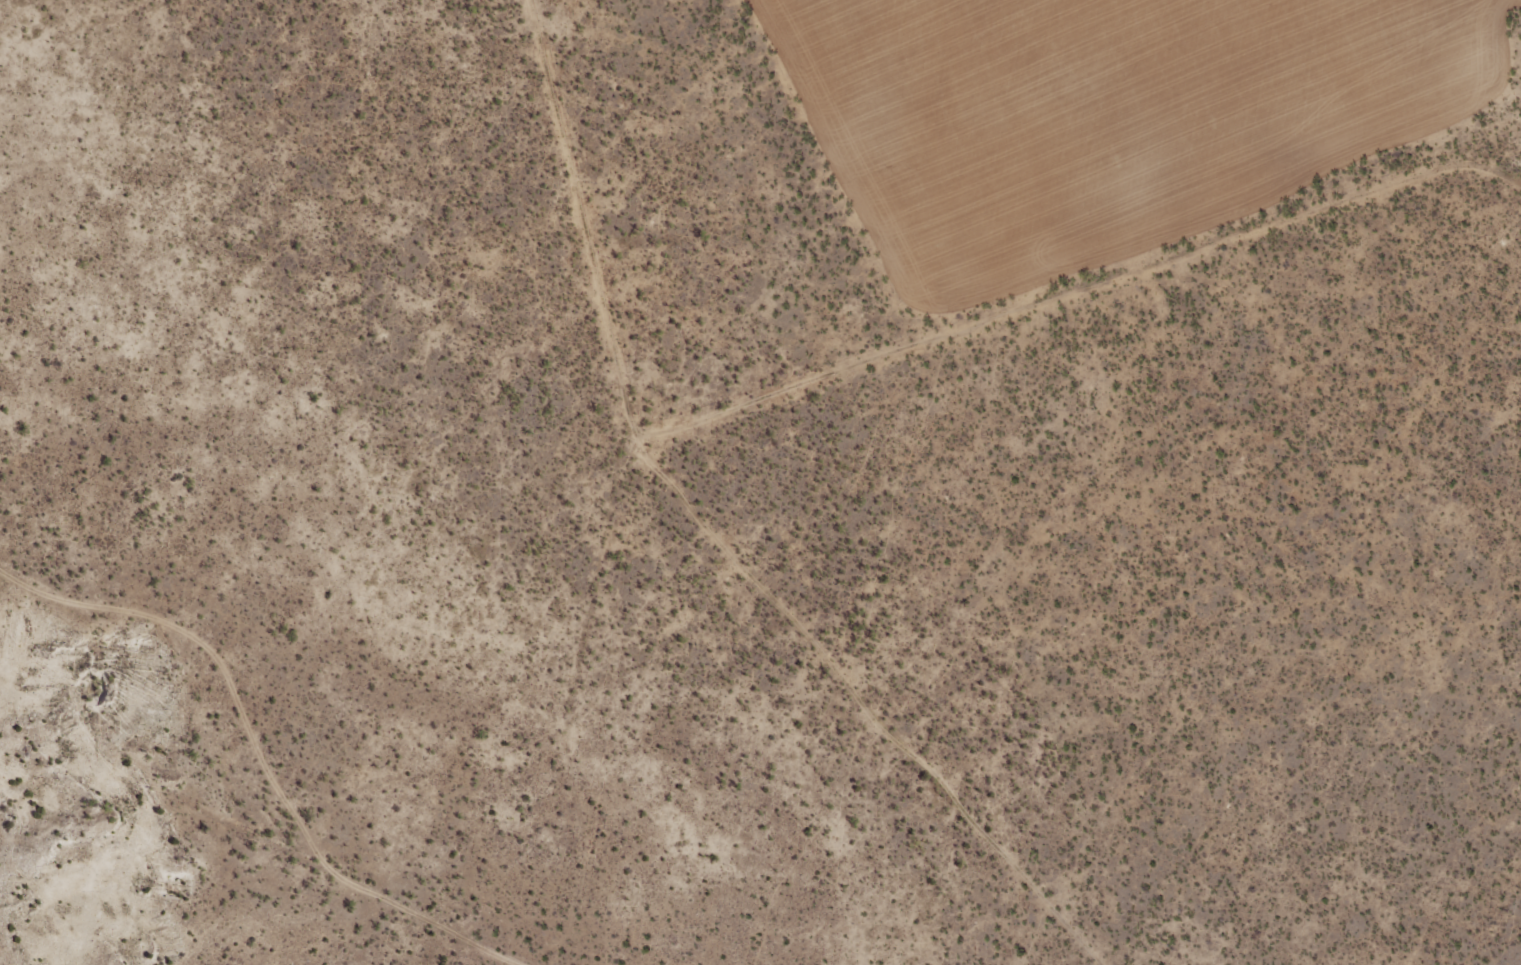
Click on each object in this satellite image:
road: (918, 353)
road: (208, 804)

